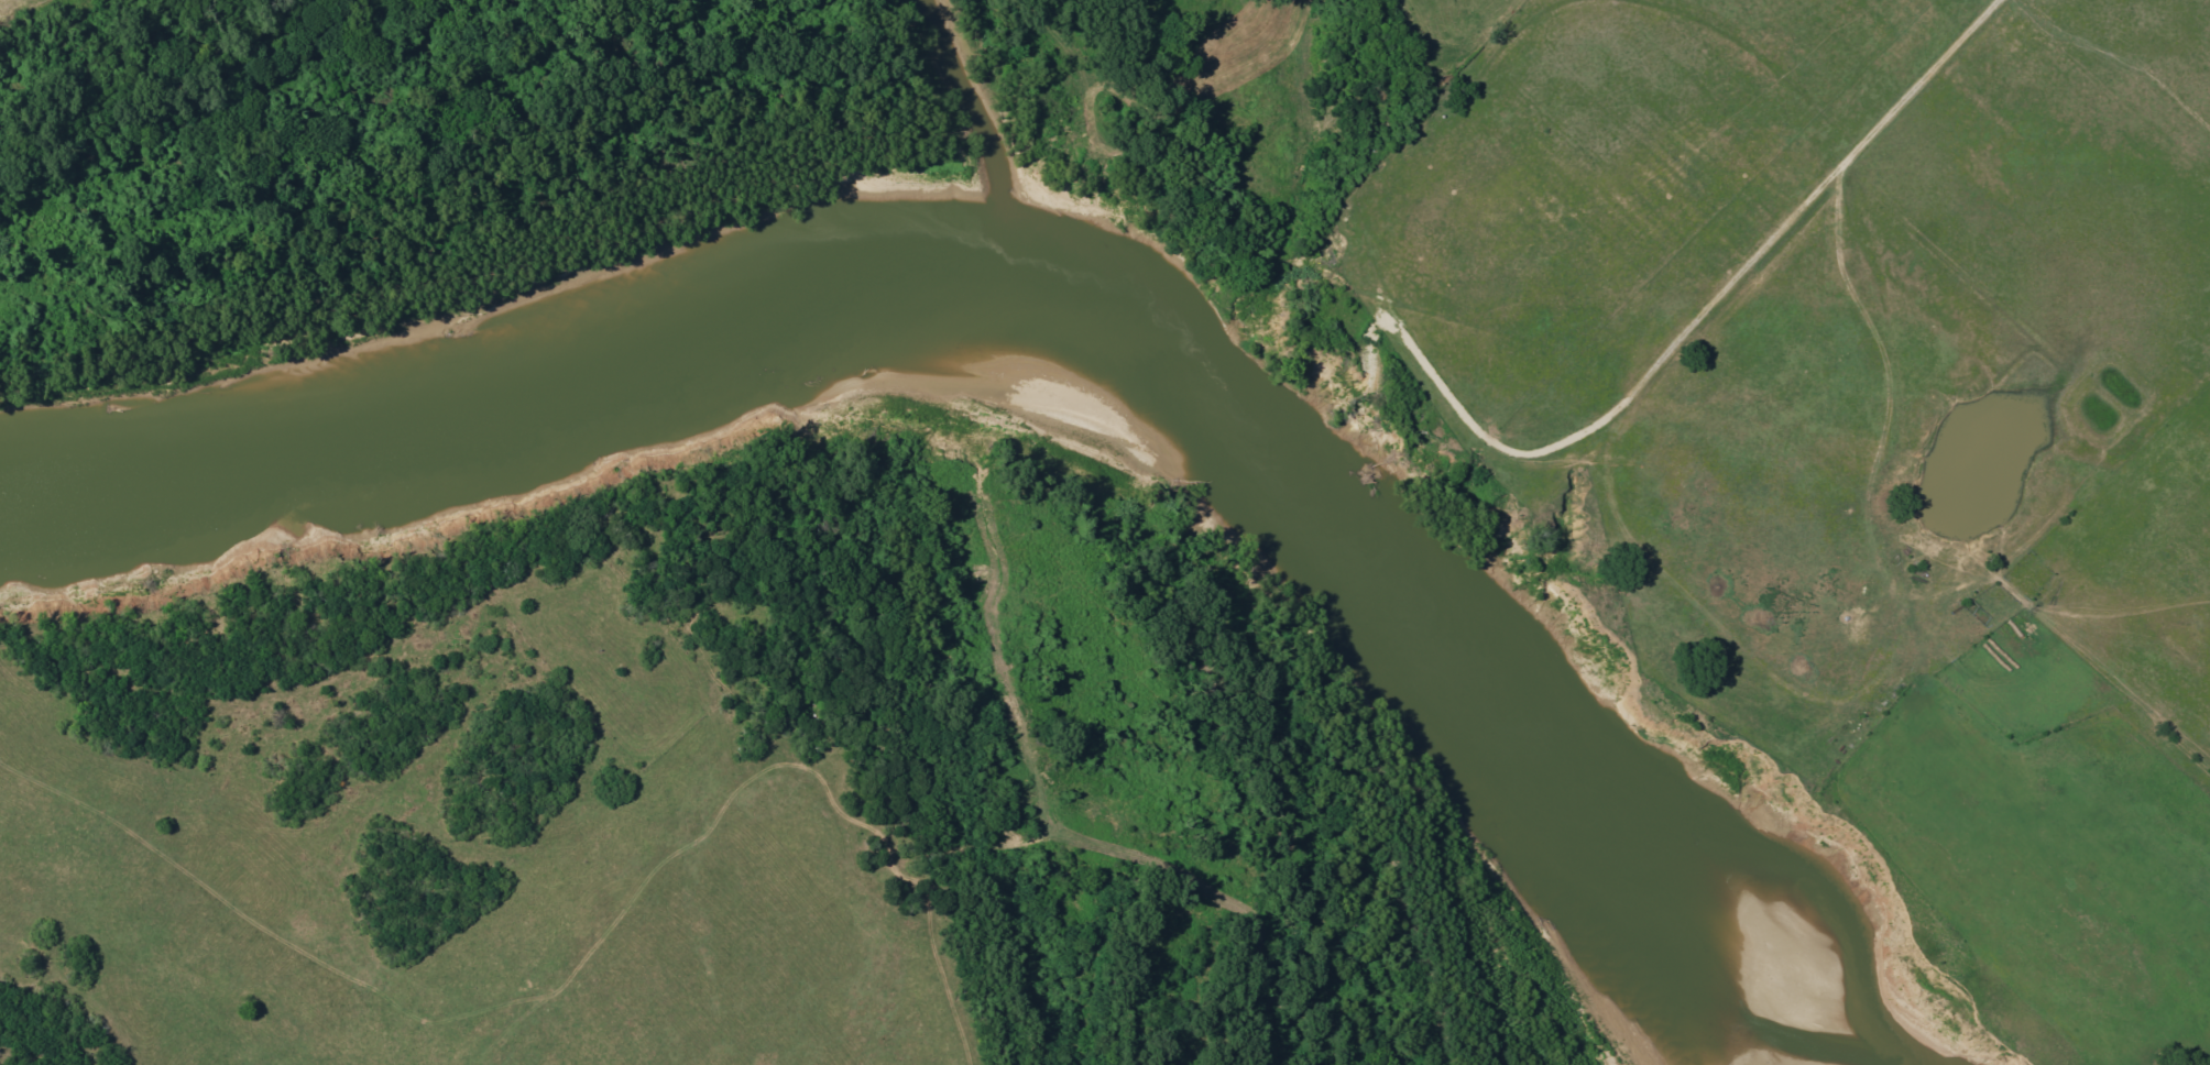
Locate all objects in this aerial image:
river: (988, 179)
river: (1039, 323)

